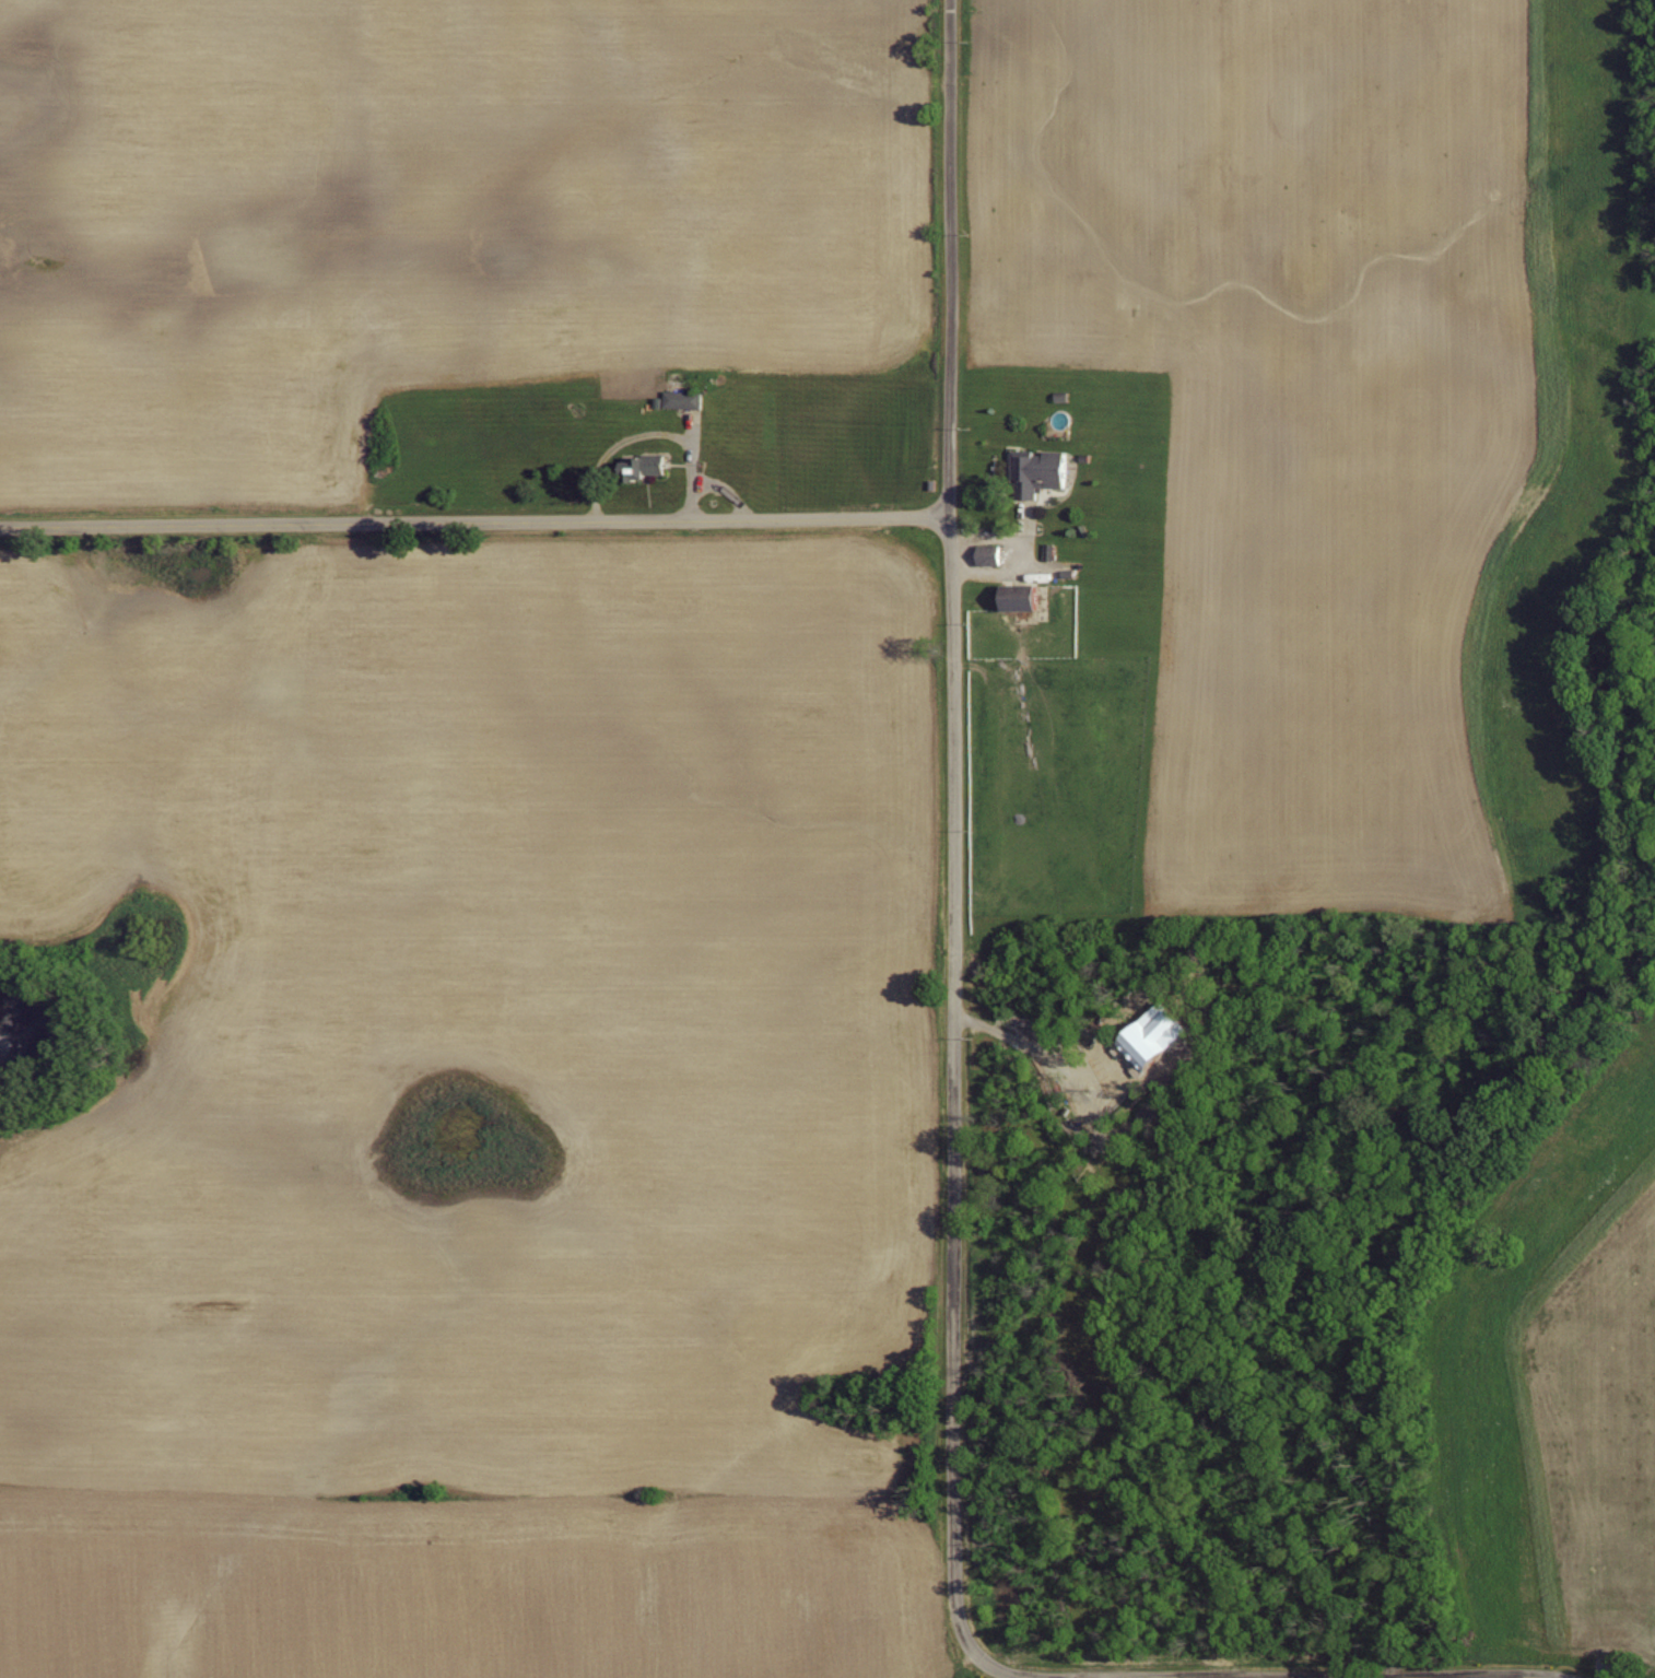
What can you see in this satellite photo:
crop: (424, 219)
crop: (1289, 390)
building: (681, 397)
building: (644, 463)
road: (474, 524)
road: (987, 540)
building: (986, 552)
building: (1012, 594)
road: (952, 811)
crop: (542, 863)
crop: (353, 1314)
crop: (1609, 1443)
crop: (456, 1595)
road: (976, 1657)
road: (1430, 1676)

